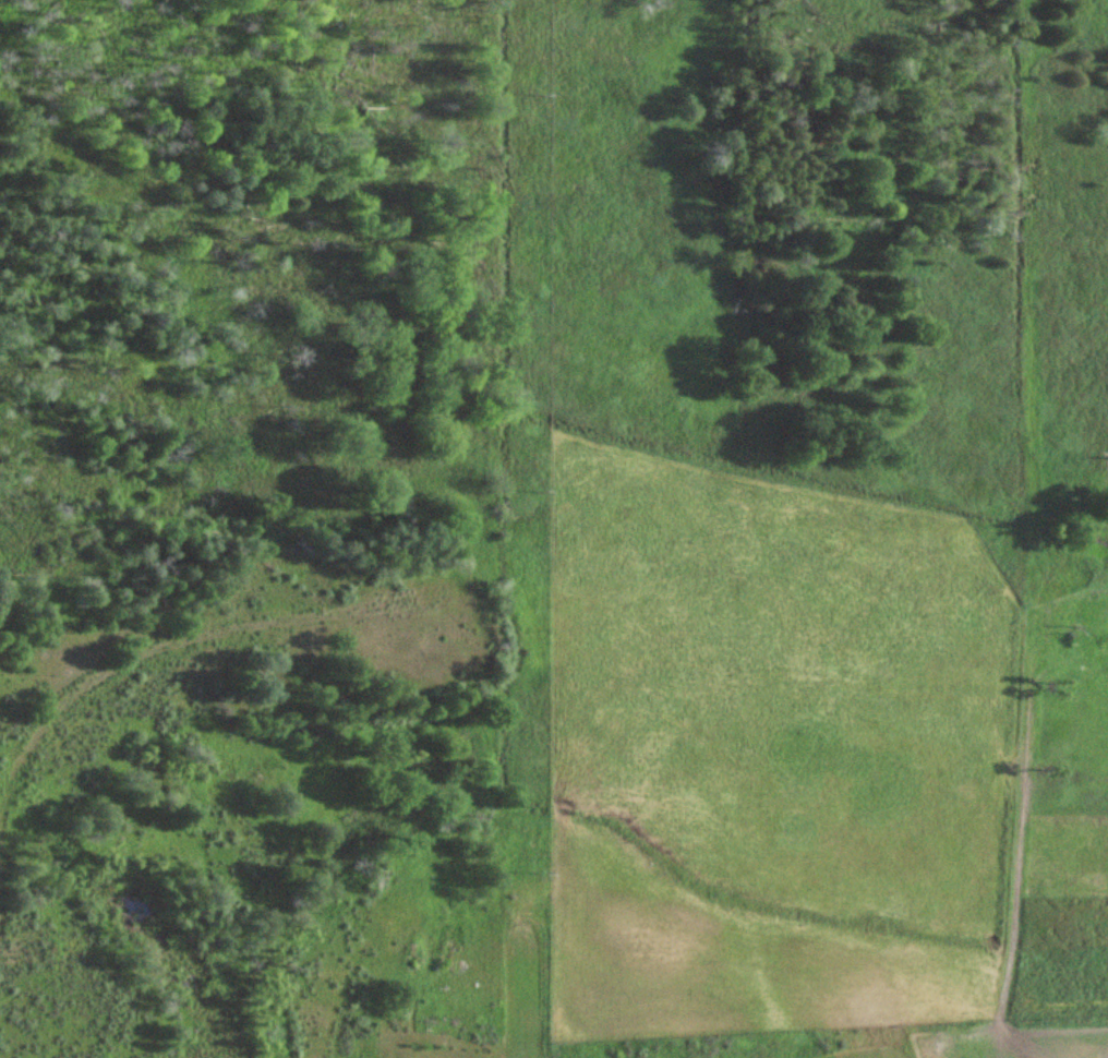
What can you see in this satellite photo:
road: (987, 529)
road: (146, 661)

